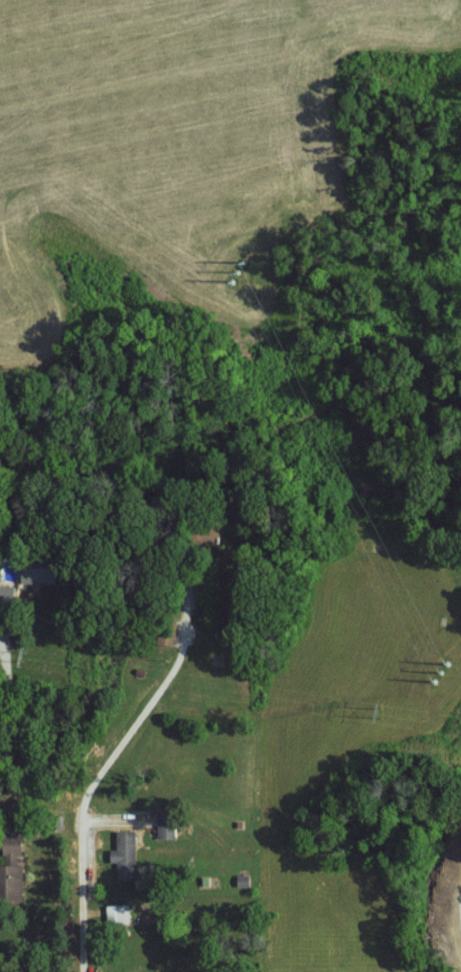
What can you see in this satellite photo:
building: (38, 574)
building: (6, 594)
building: (167, 636)
road: (92, 784)
building: (167, 827)
building: (125, 853)
building: (12, 868)
building: (118, 914)

